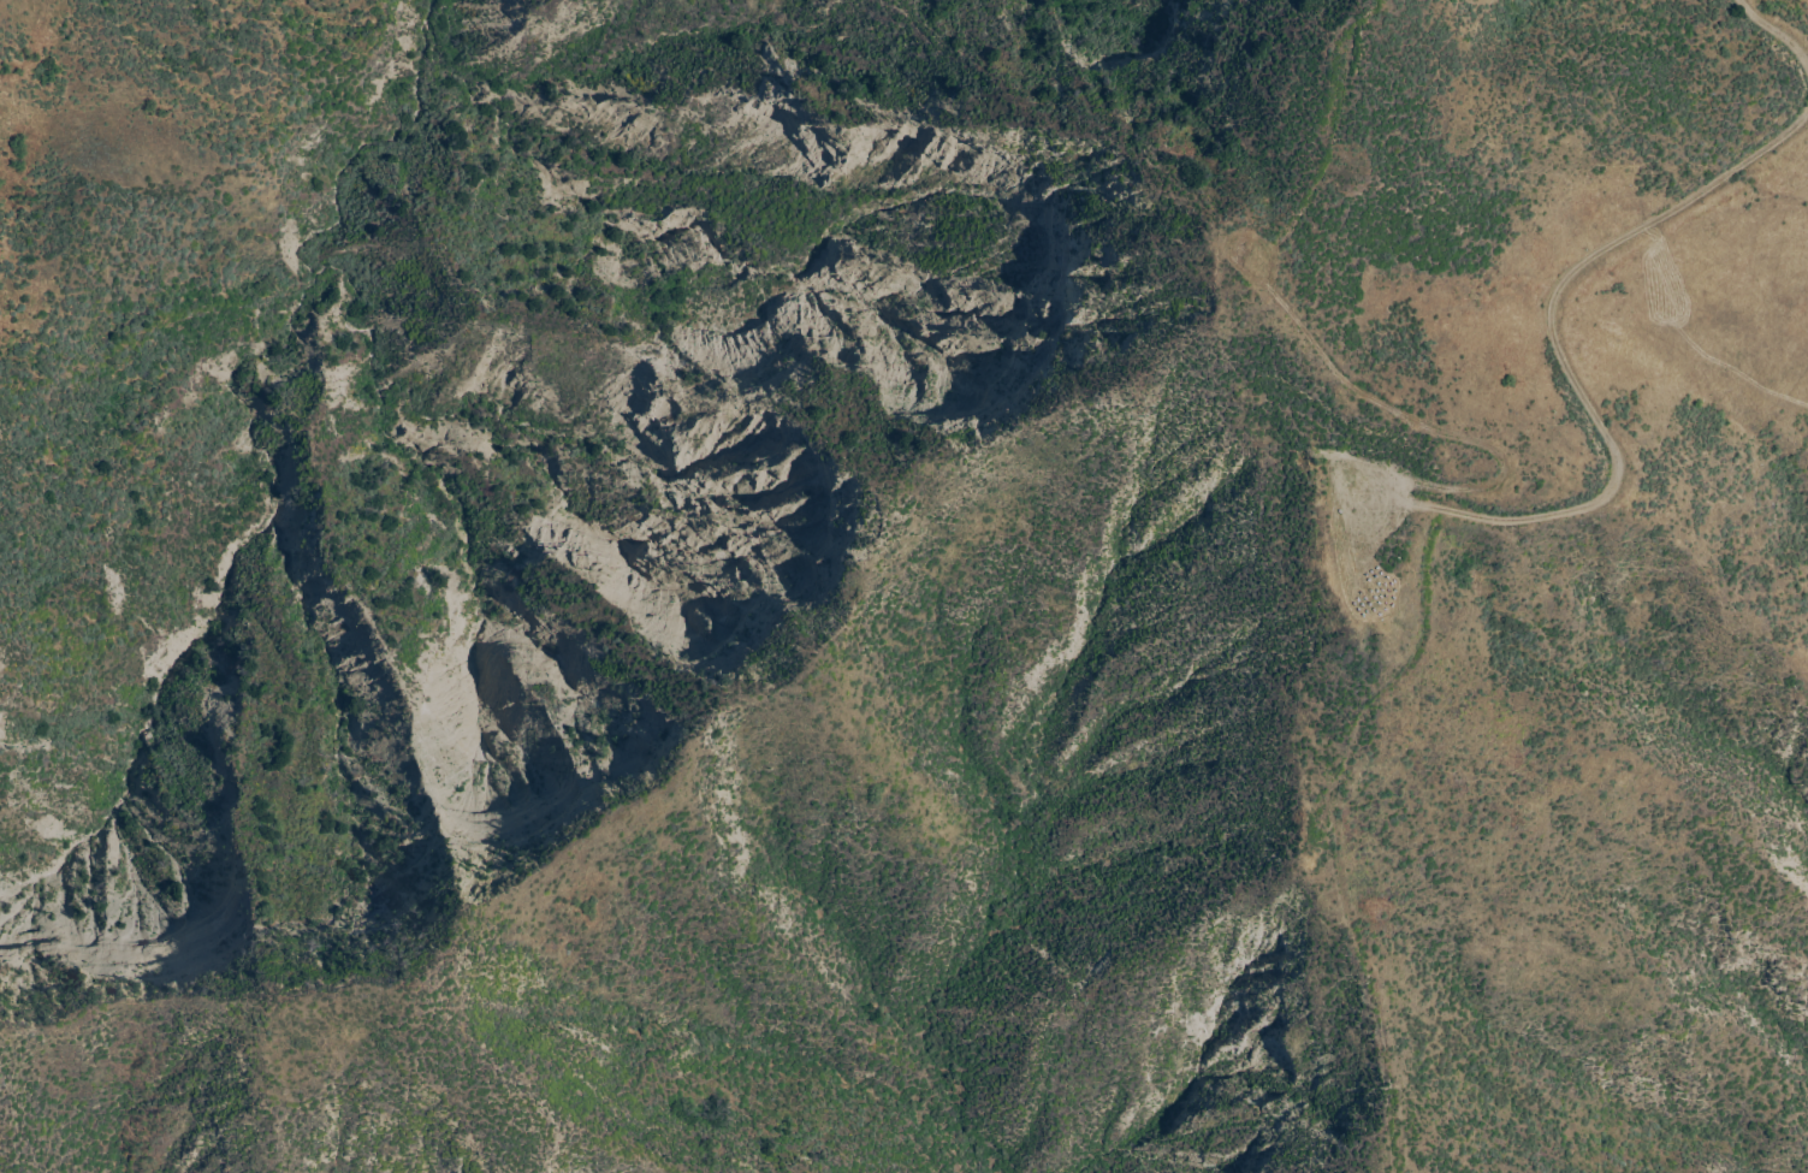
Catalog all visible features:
road: (1776, 28)
road: (1241, 244)
road: (1539, 517)

